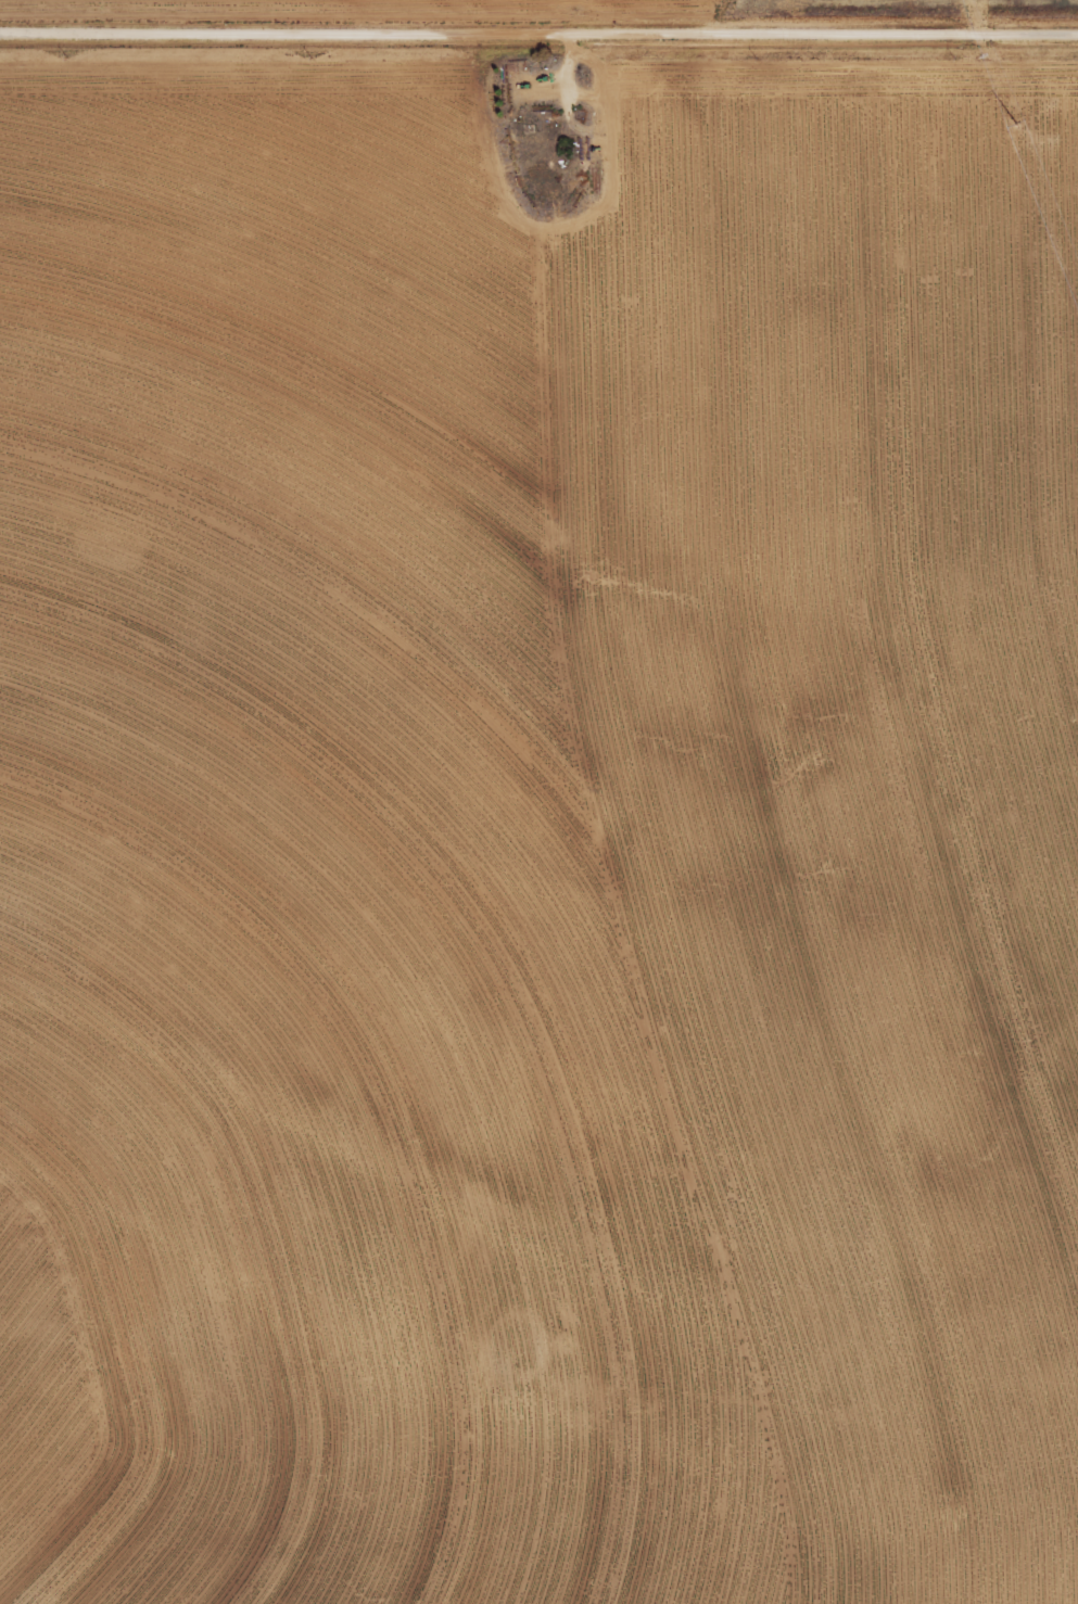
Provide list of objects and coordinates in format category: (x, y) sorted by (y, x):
road: (538, 41)
power tower: (1004, 127)

